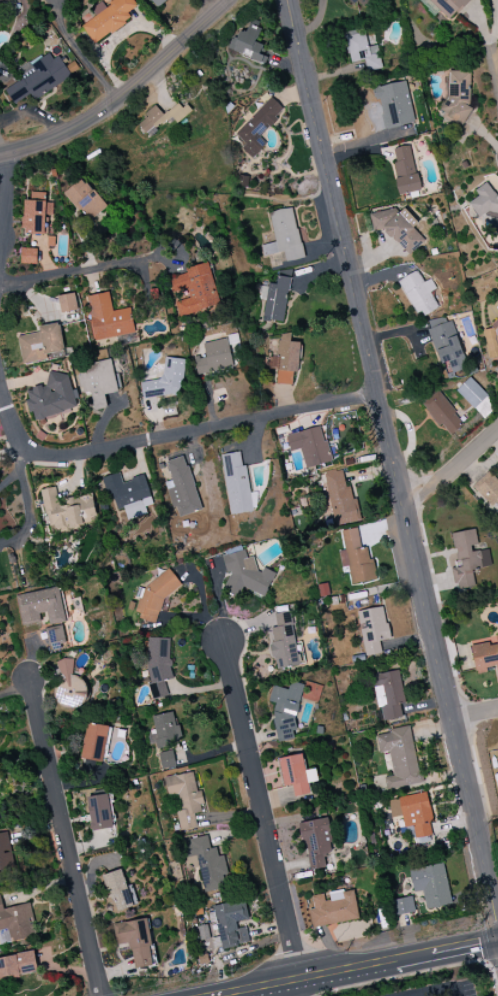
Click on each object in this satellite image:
building: (5, 1)
building: (157, 2)
building: (361, 2)
building: (445, 6)
building: (108, 18)
building: (249, 45)
road: (489, 47)
building: (362, 51)
road: (79, 52)
building: (38, 78)
road: (123, 93)
building: (457, 96)
building: (394, 105)
building: (161, 117)
building: (258, 127)
road: (0, 153)
building: (405, 170)
road: (5, 197)
building: (85, 199)
building: (486, 200)
building: (36, 214)
building: (397, 228)
building: (284, 236)
building: (28, 256)
road: (75, 272)
building: (196, 290)
building: (418, 294)
building: (275, 297)
building: (67, 303)
building: (108, 318)
building: (491, 337)
building: (446, 343)
building: (40, 344)
building: (214, 357)
building: (285, 360)
building: (167, 380)
building: (98, 382)
building: (475, 396)
building: (51, 397)
building: (442, 414)
road: (102, 421)
road: (167, 437)
building: (309, 446)
road: (392, 460)
road: (452, 473)
building: (236, 484)
building: (181, 487)
building: (488, 489)
building: (128, 495)
building: (340, 498)
road: (27, 503)
building: (66, 510)
building: (355, 558)
building: (467, 558)
building: (245, 575)
building: (41, 606)
building: (373, 629)
building: (283, 642)
building: (485, 656)
building: (158, 667)
building: (68, 685)
road: (14, 692)
building: (388, 695)
building: (286, 709)
road: (476, 718)
building: (164, 731)
building: (94, 742)
building: (497, 750)
building: (399, 758)
building: (166, 760)
building: (296, 775)
building: (185, 799)
road: (261, 809)
building: (99, 812)
building: (414, 815)
road: (63, 838)
building: (315, 842)
building: (5, 853)
building: (207, 864)
building: (431, 886)
building: (119, 891)
building: (402, 906)
building: (333, 908)
building: (17, 922)
building: (231, 923)
building: (135, 941)
road: (464, 945)
road: (364, 964)
building: (17, 965)
road: (281, 980)
road: (300, 986)
road: (243, 988)
road: (437, 989)
parking lot: (440, 989)
road: (214, 994)
road: (422, 994)

